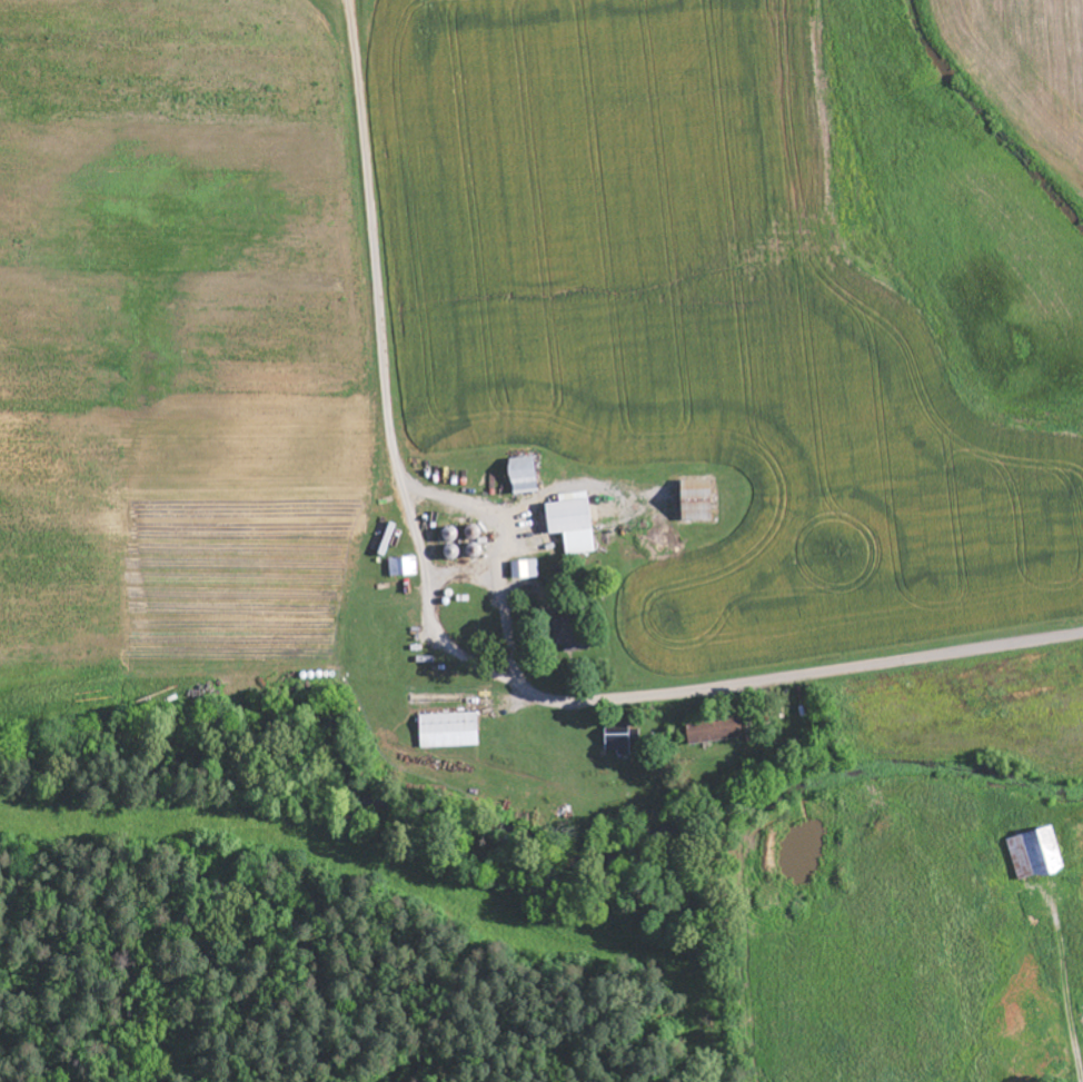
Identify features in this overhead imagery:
building: (523, 475)
building: (695, 500)
building: (572, 522)
building: (404, 566)
building: (525, 569)
building: (569, 631)
road: (736, 685)
building: (449, 731)
building: (715, 731)
building: (617, 742)
building: (1034, 853)

